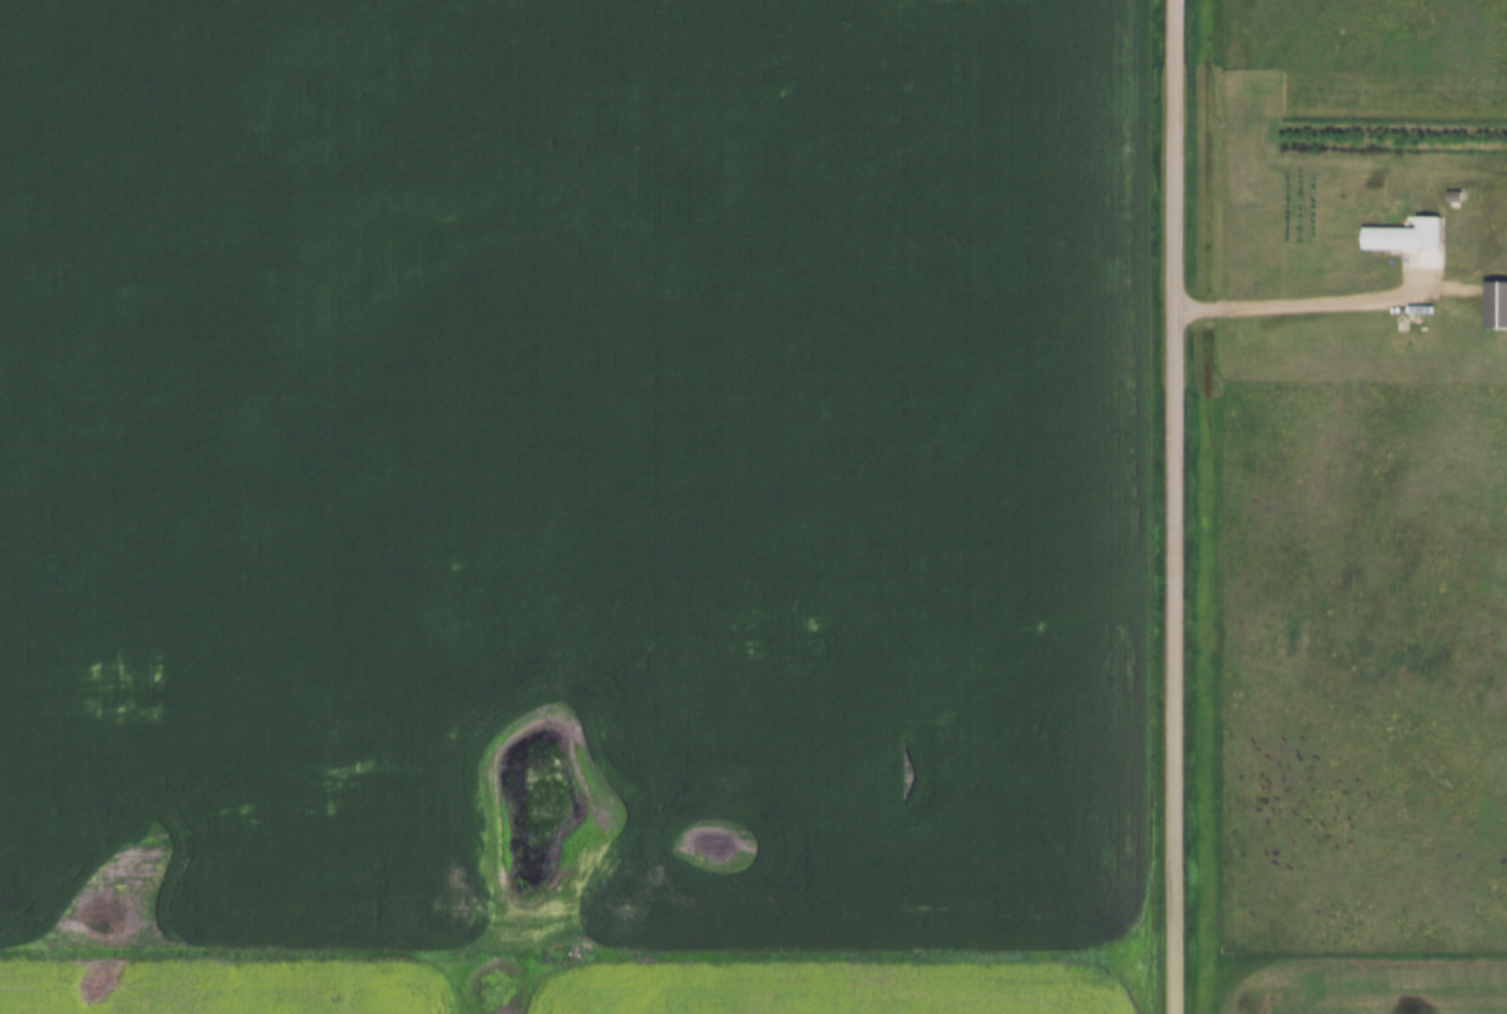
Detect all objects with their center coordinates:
building: (1390, 237)
building: (1496, 303)
road: (1179, 507)

